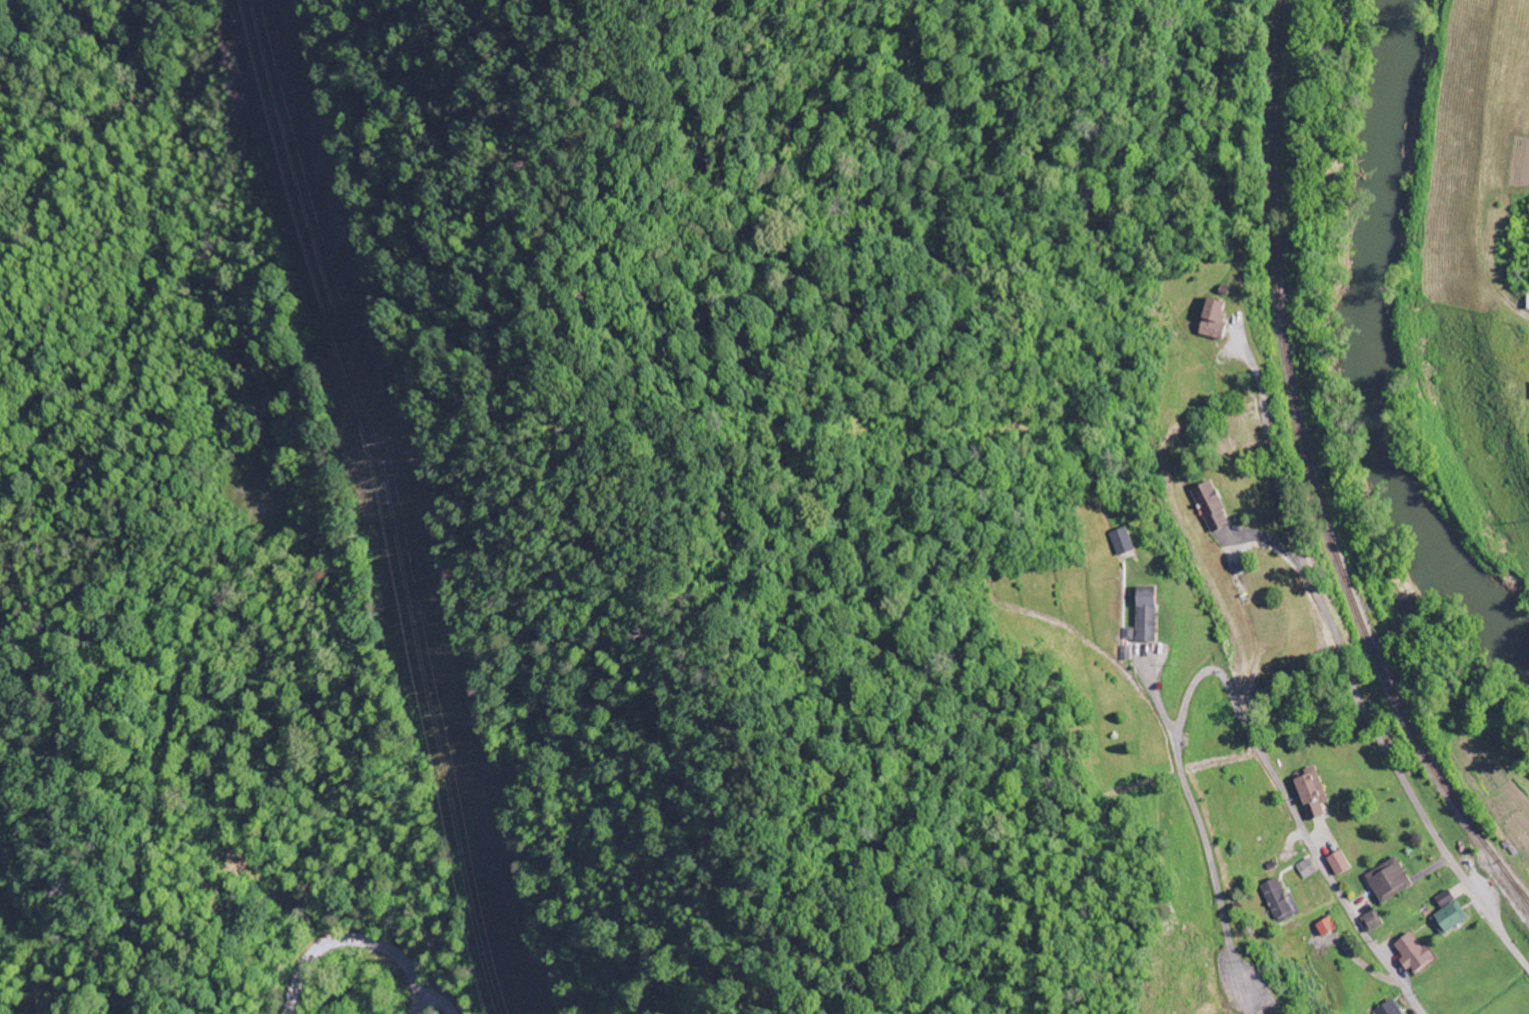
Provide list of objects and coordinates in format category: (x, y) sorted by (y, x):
river: (1370, 360)
railway: (1312, 475)
road: (1349, 673)
road: (1227, 683)
building: (1324, 789)
building: (1354, 857)
building: (1321, 862)
building: (1292, 894)
building: (1461, 912)
road: (351, 940)

